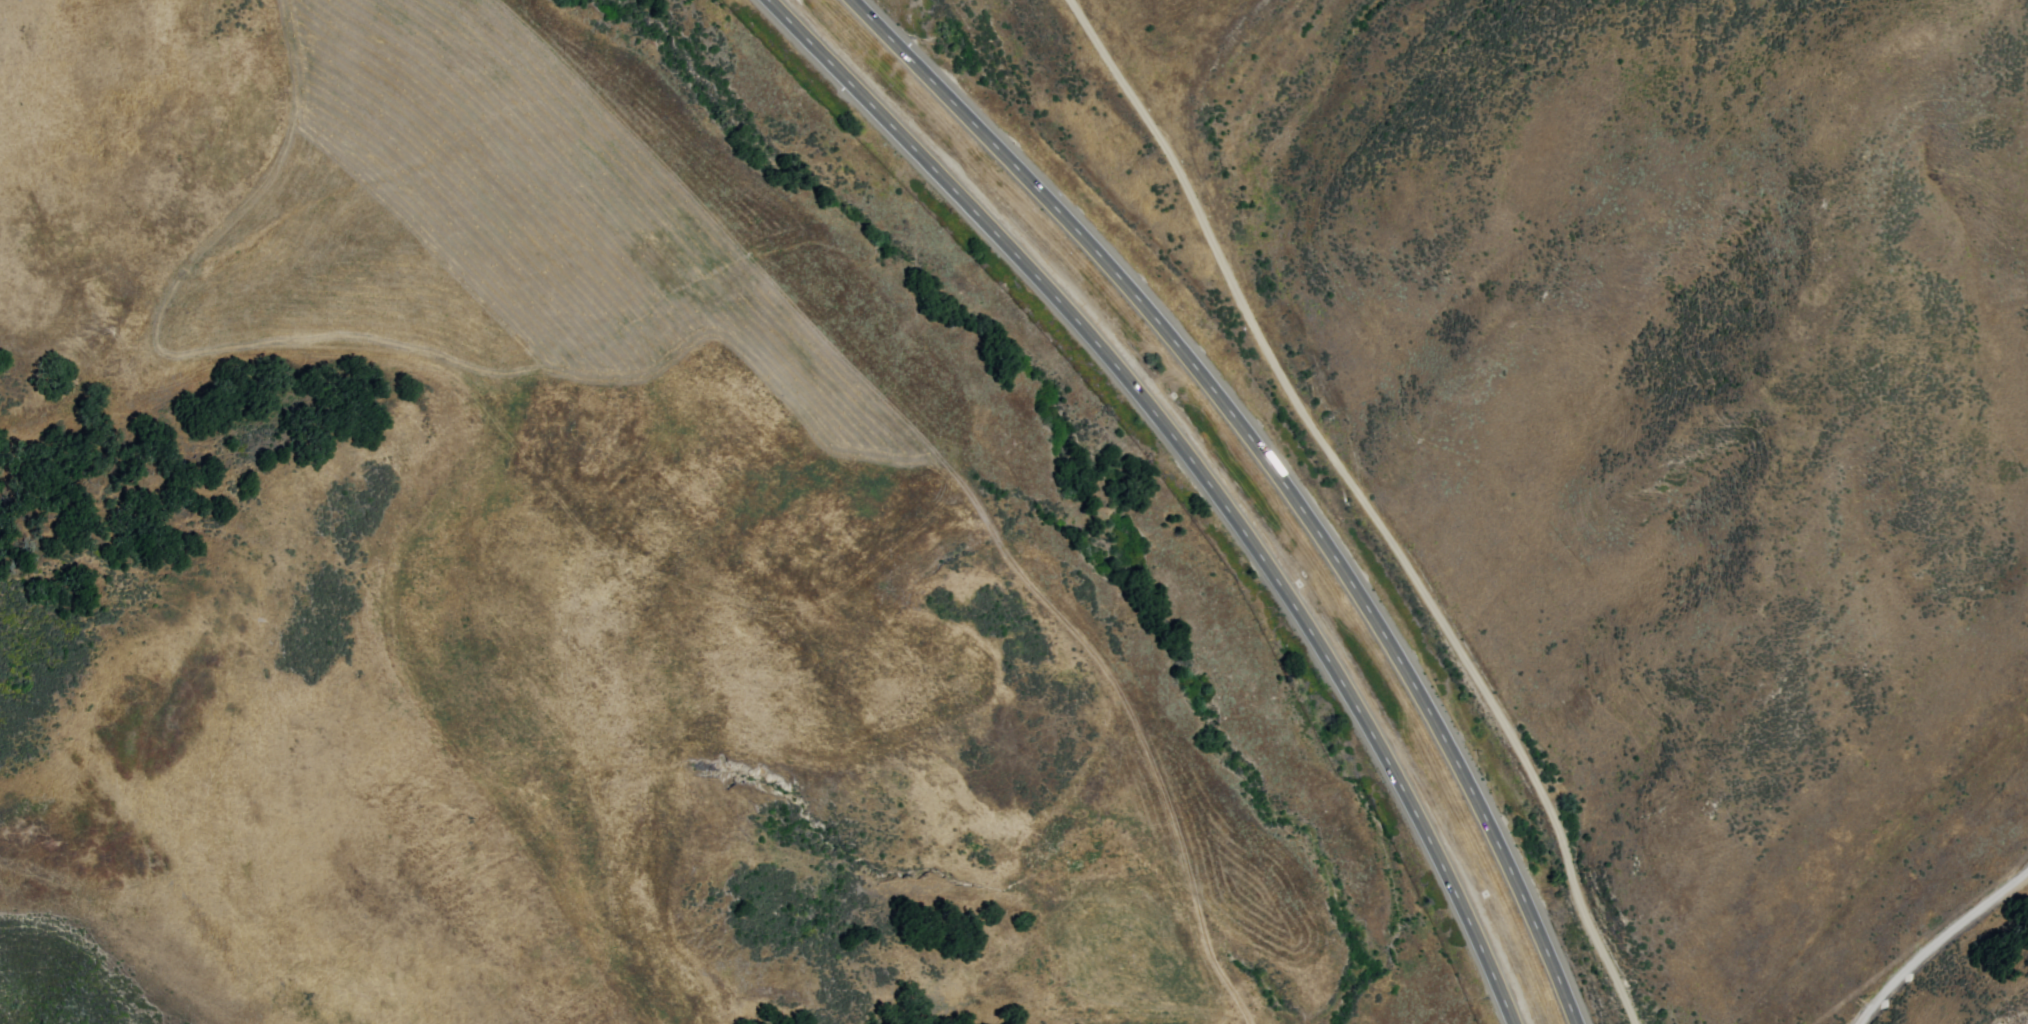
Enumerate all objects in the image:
road: (1199, 470)
road: (1273, 470)
road: (1369, 505)

